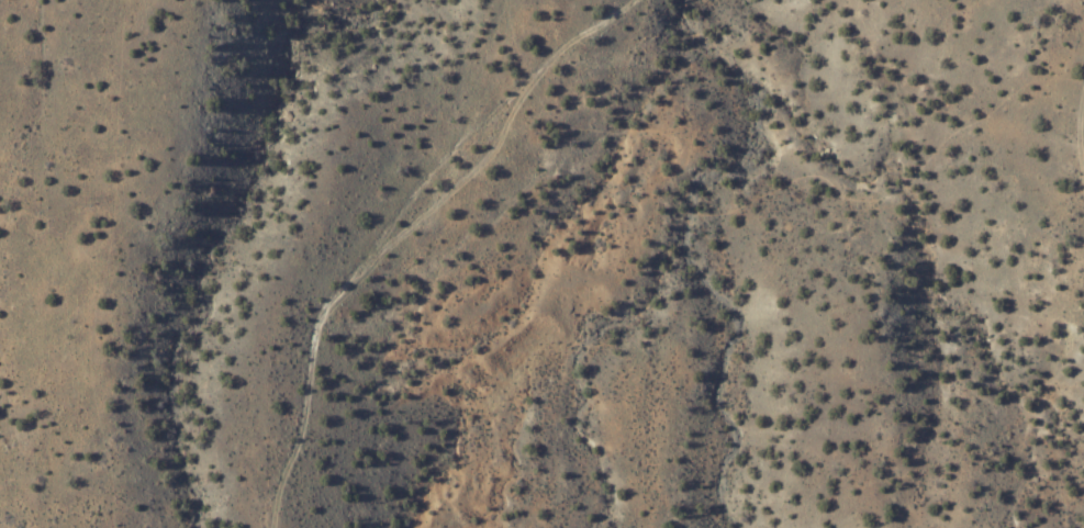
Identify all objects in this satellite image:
road: (399, 238)

